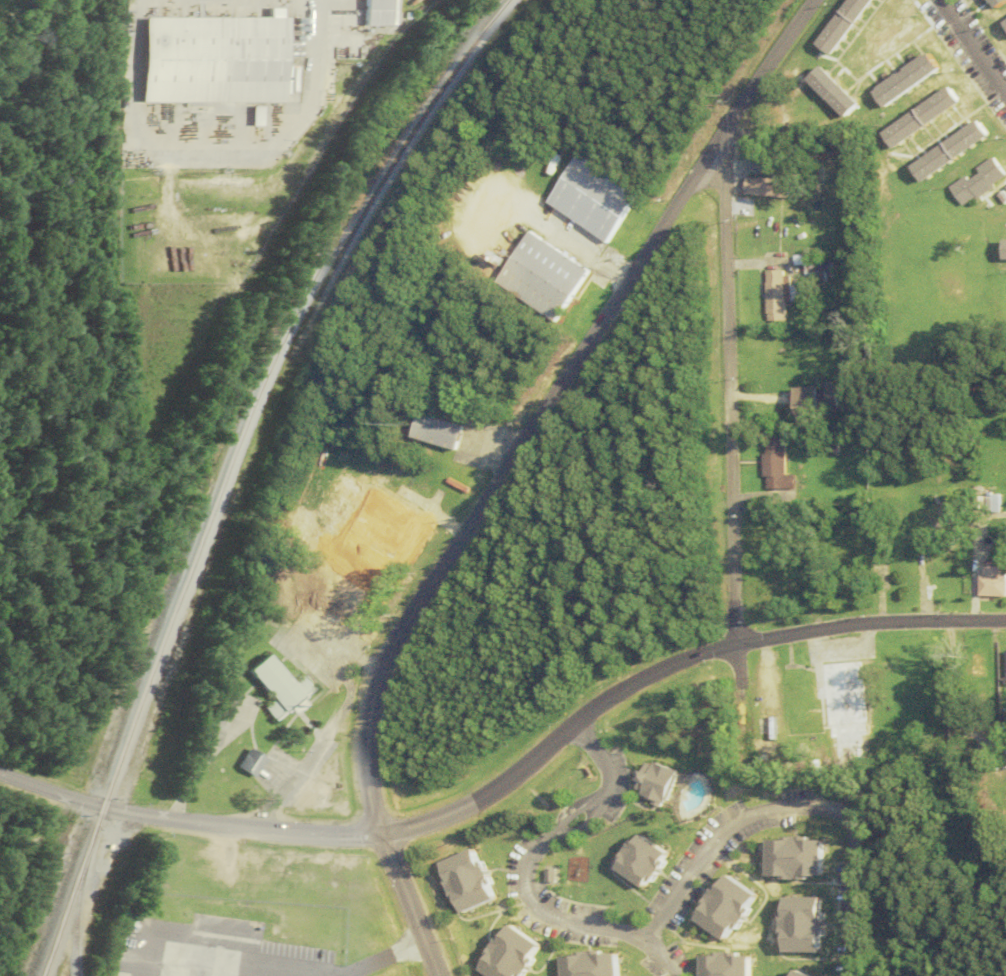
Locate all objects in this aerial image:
building: (995, 3)
building: (378, 13)
building: (1004, 23)
building: (840, 25)
road: (966, 56)
building: (215, 61)
building: (904, 80)
building: (832, 92)
building: (918, 118)
building: (946, 152)
building: (973, 183)
building: (765, 188)
building: (1003, 190)
building: (592, 198)
building: (1003, 251)
building: (814, 269)
building: (539, 277)
building: (772, 296)
road: (540, 402)
building: (811, 404)
road: (722, 424)
building: (430, 432)
railway: (230, 465)
building: (770, 466)
building: (986, 503)
building: (351, 509)
building: (986, 581)
road: (670, 662)
building: (1001, 668)
building: (280, 687)
building: (837, 708)
building: (251, 763)
building: (653, 783)
road: (785, 804)
road: (187, 820)
road: (523, 855)
building: (790, 859)
building: (640, 862)
building: (469, 881)
road: (408, 905)
building: (723, 908)
building: (798, 925)
building: (511, 954)
road: (651, 957)
road: (382, 958)
road: (226, 964)
building: (588, 964)
building: (720, 965)
building: (792, 974)

